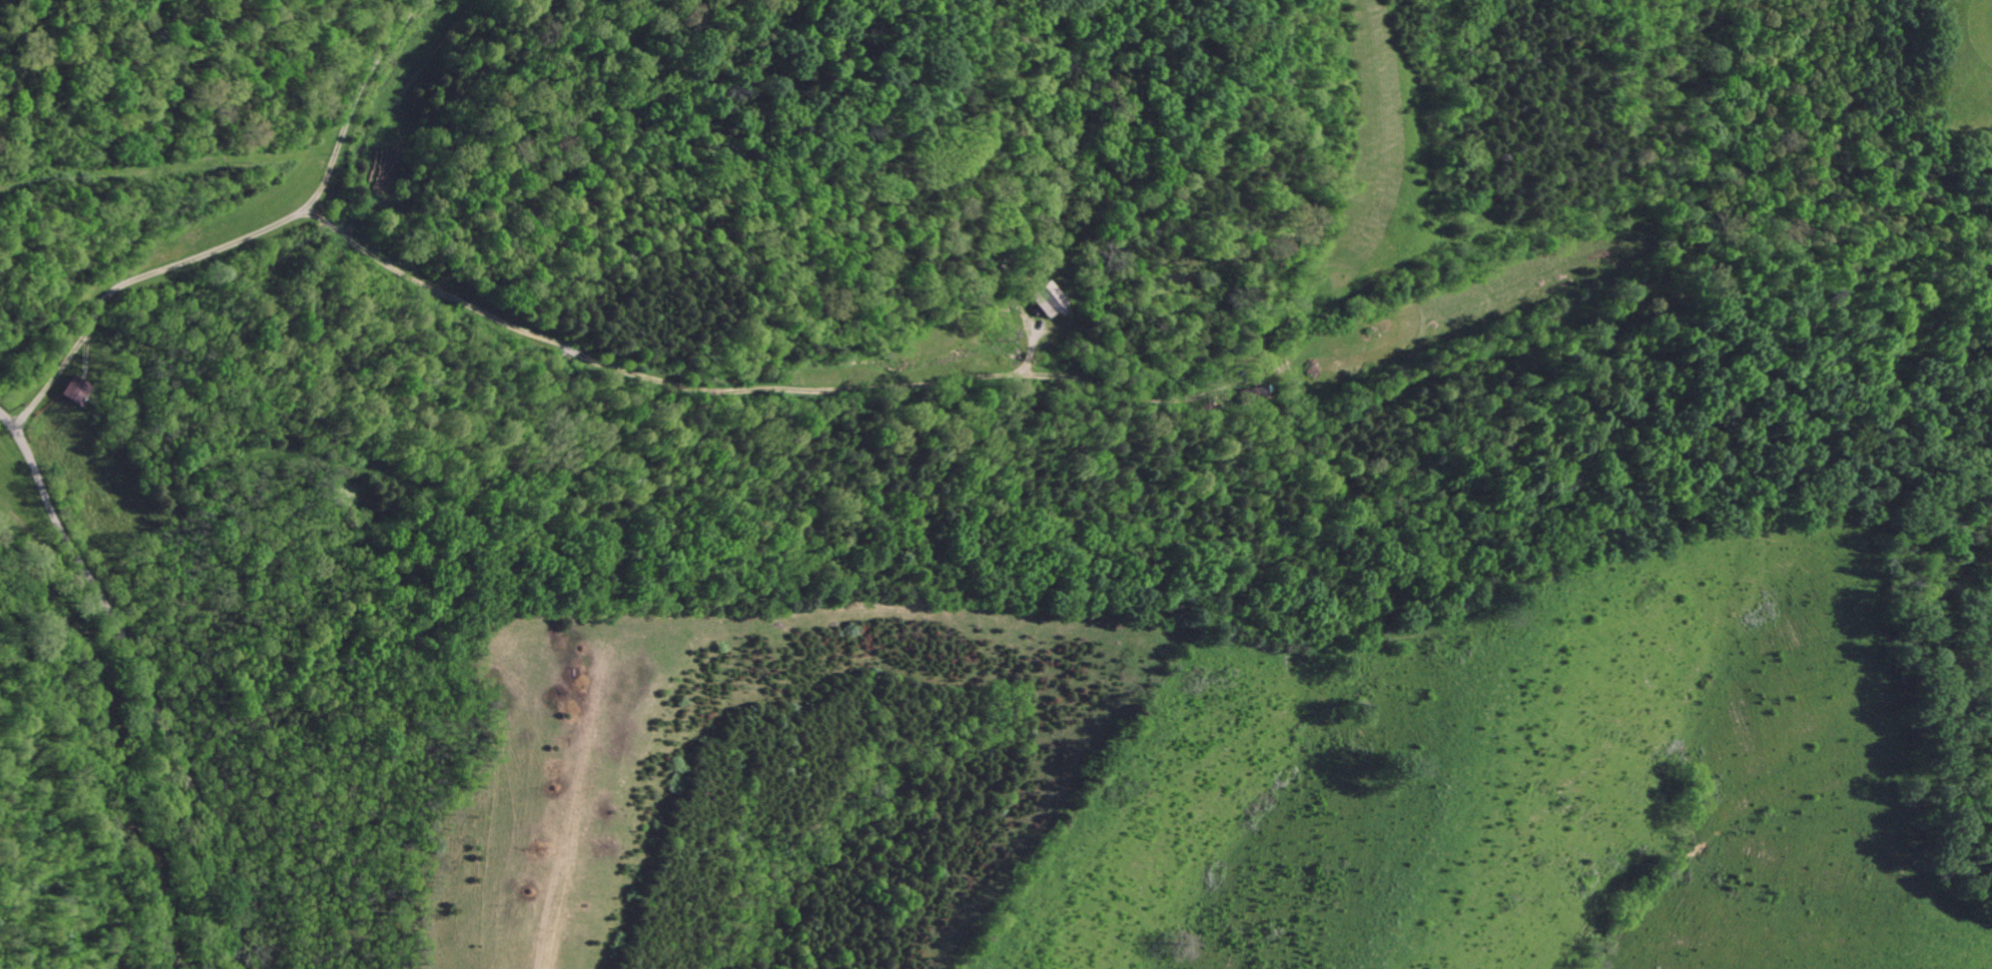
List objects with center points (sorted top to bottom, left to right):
road: (352, 107)
road: (262, 230)
building: (1047, 299)
building: (78, 390)
road: (82, 566)
road: (219, 841)

